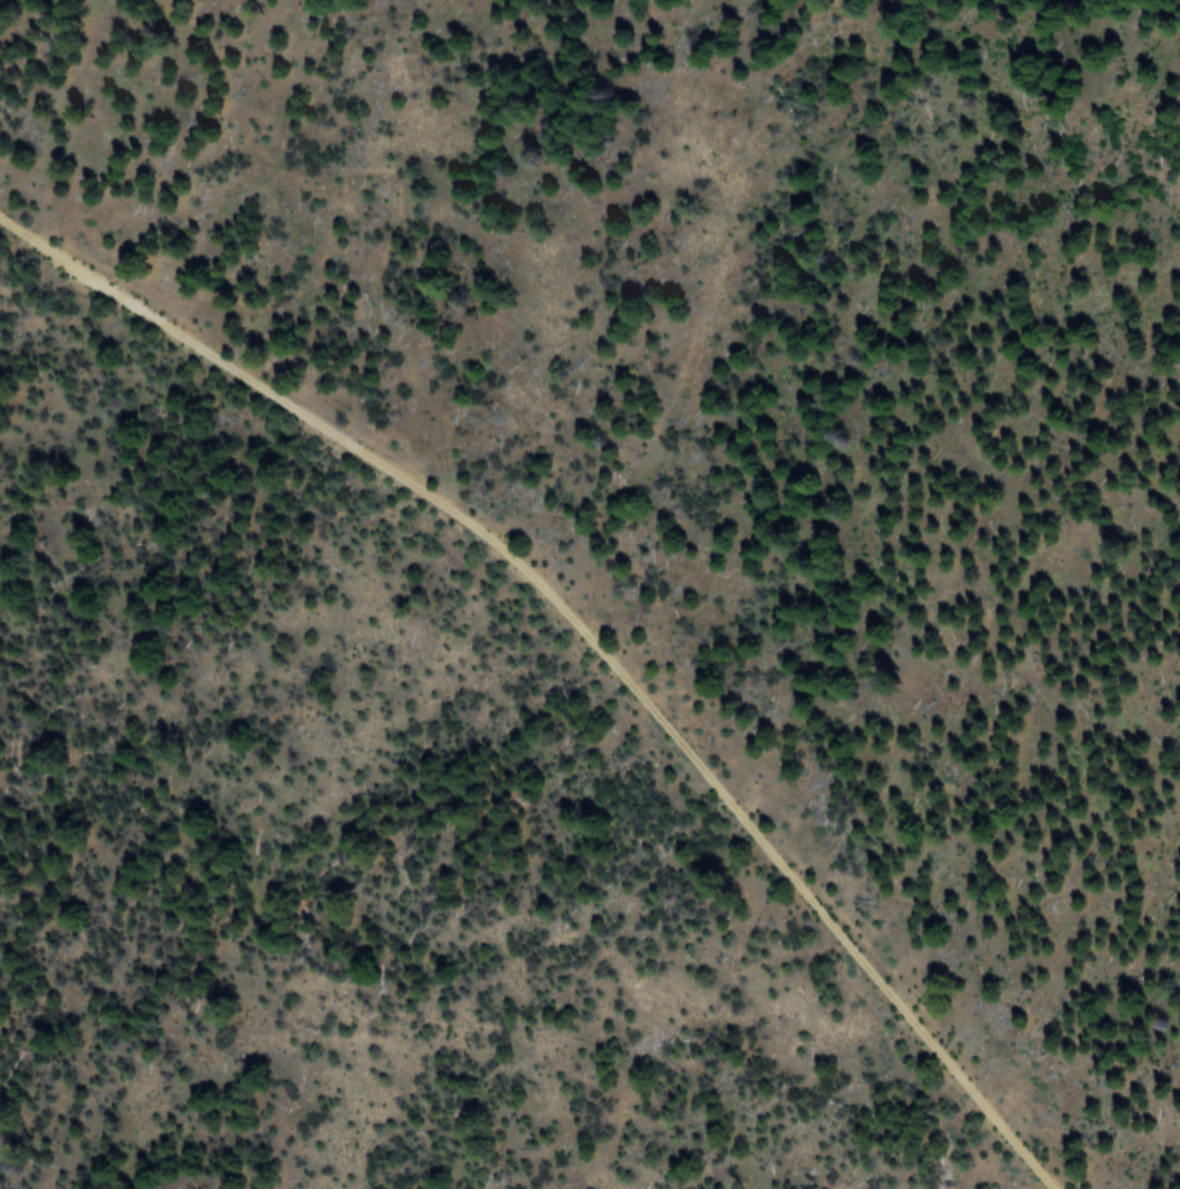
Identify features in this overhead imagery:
road: (586, 634)

